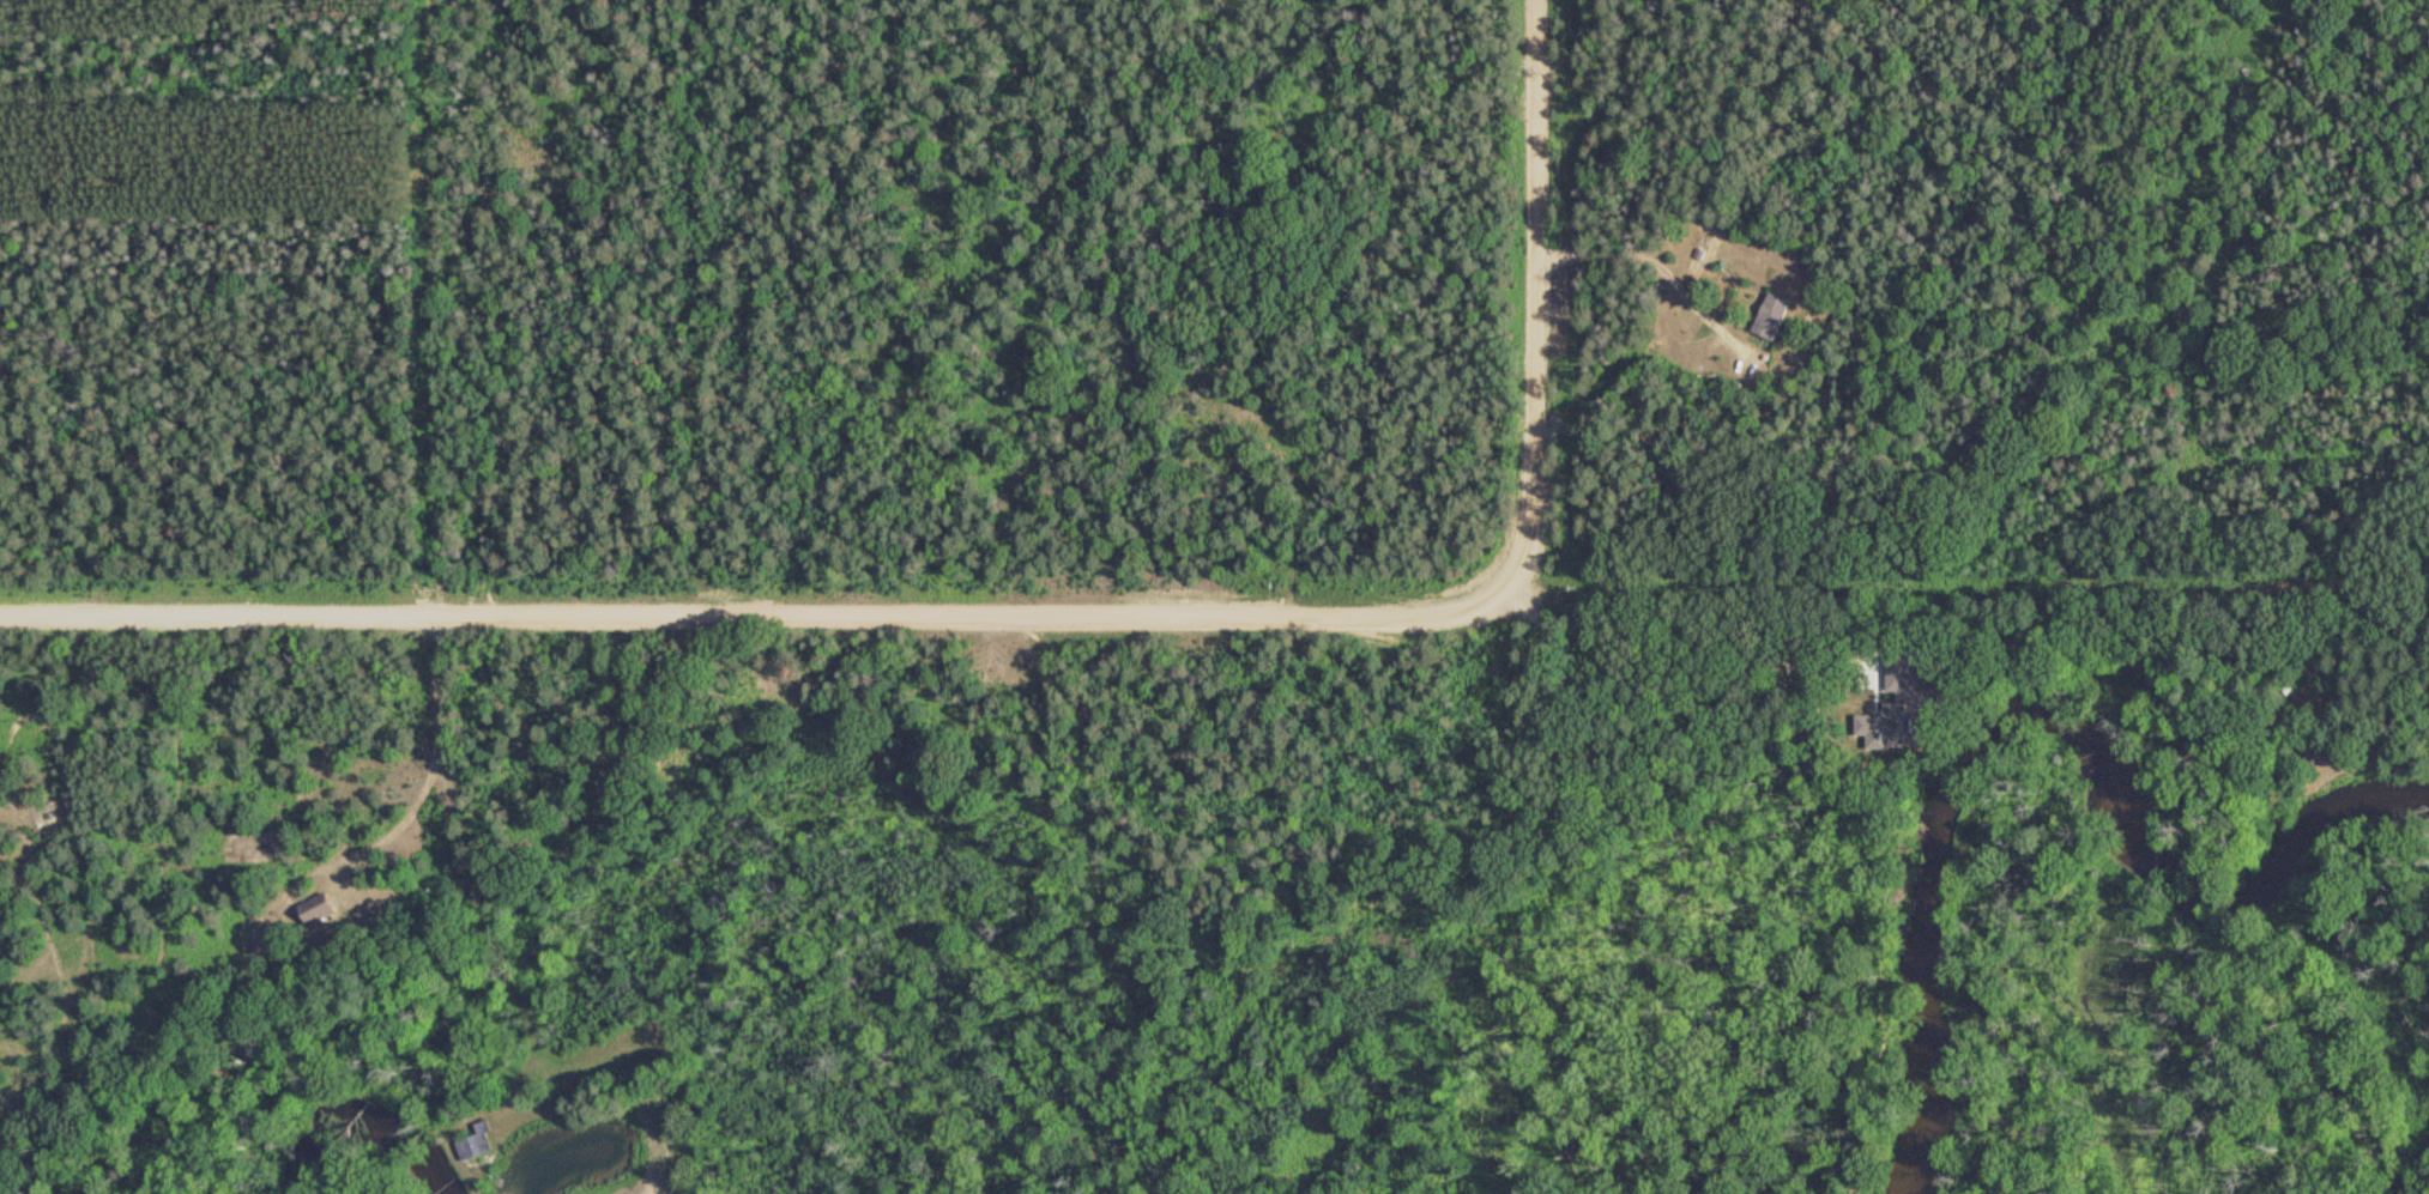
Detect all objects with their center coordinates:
road: (1524, 303)
building: (1766, 316)
road: (747, 616)
river: (2048, 713)
road: (1541, 846)
road: (705, 885)
river: (362, 1123)

